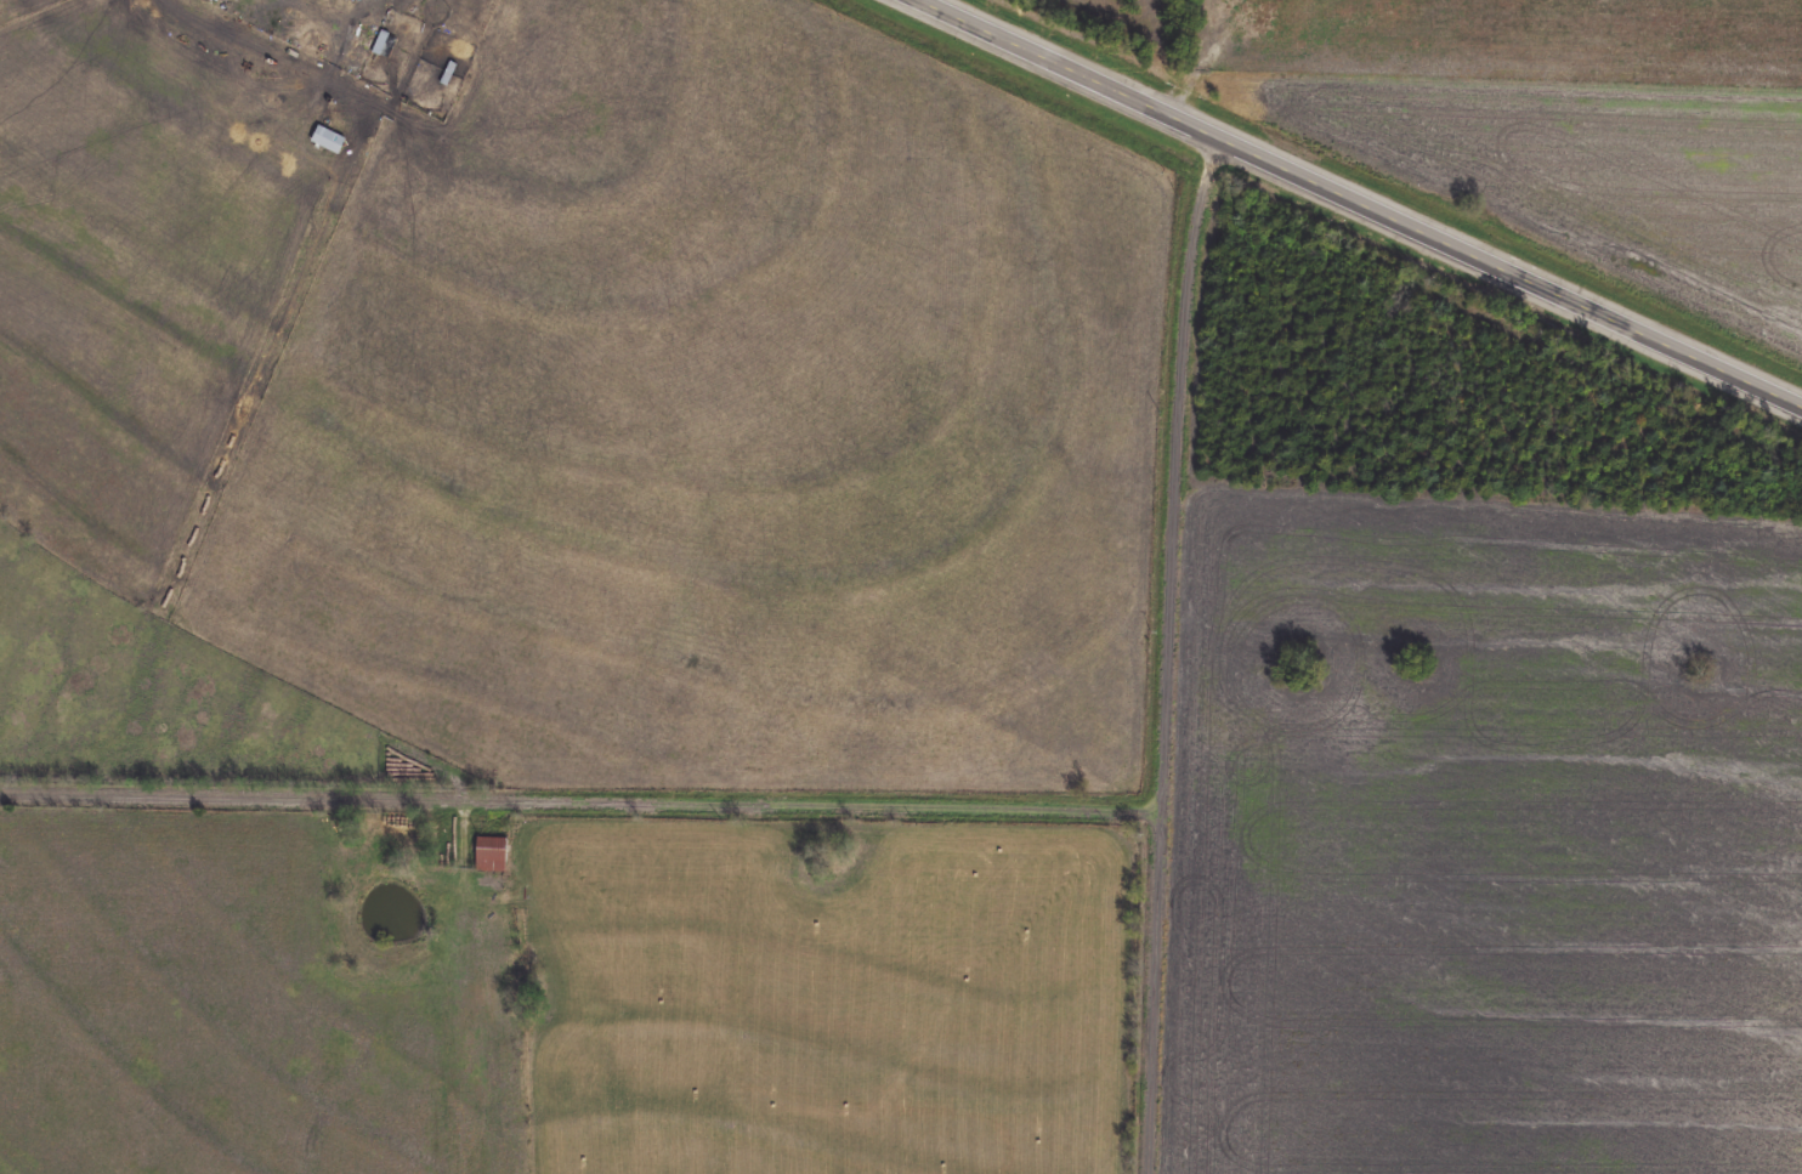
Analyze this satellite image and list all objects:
building: (357, 1)
building: (330, 141)
railway: (1392, 187)
road: (1365, 199)
road: (1174, 467)
road: (579, 796)
building: (493, 856)
road: (1151, 989)

